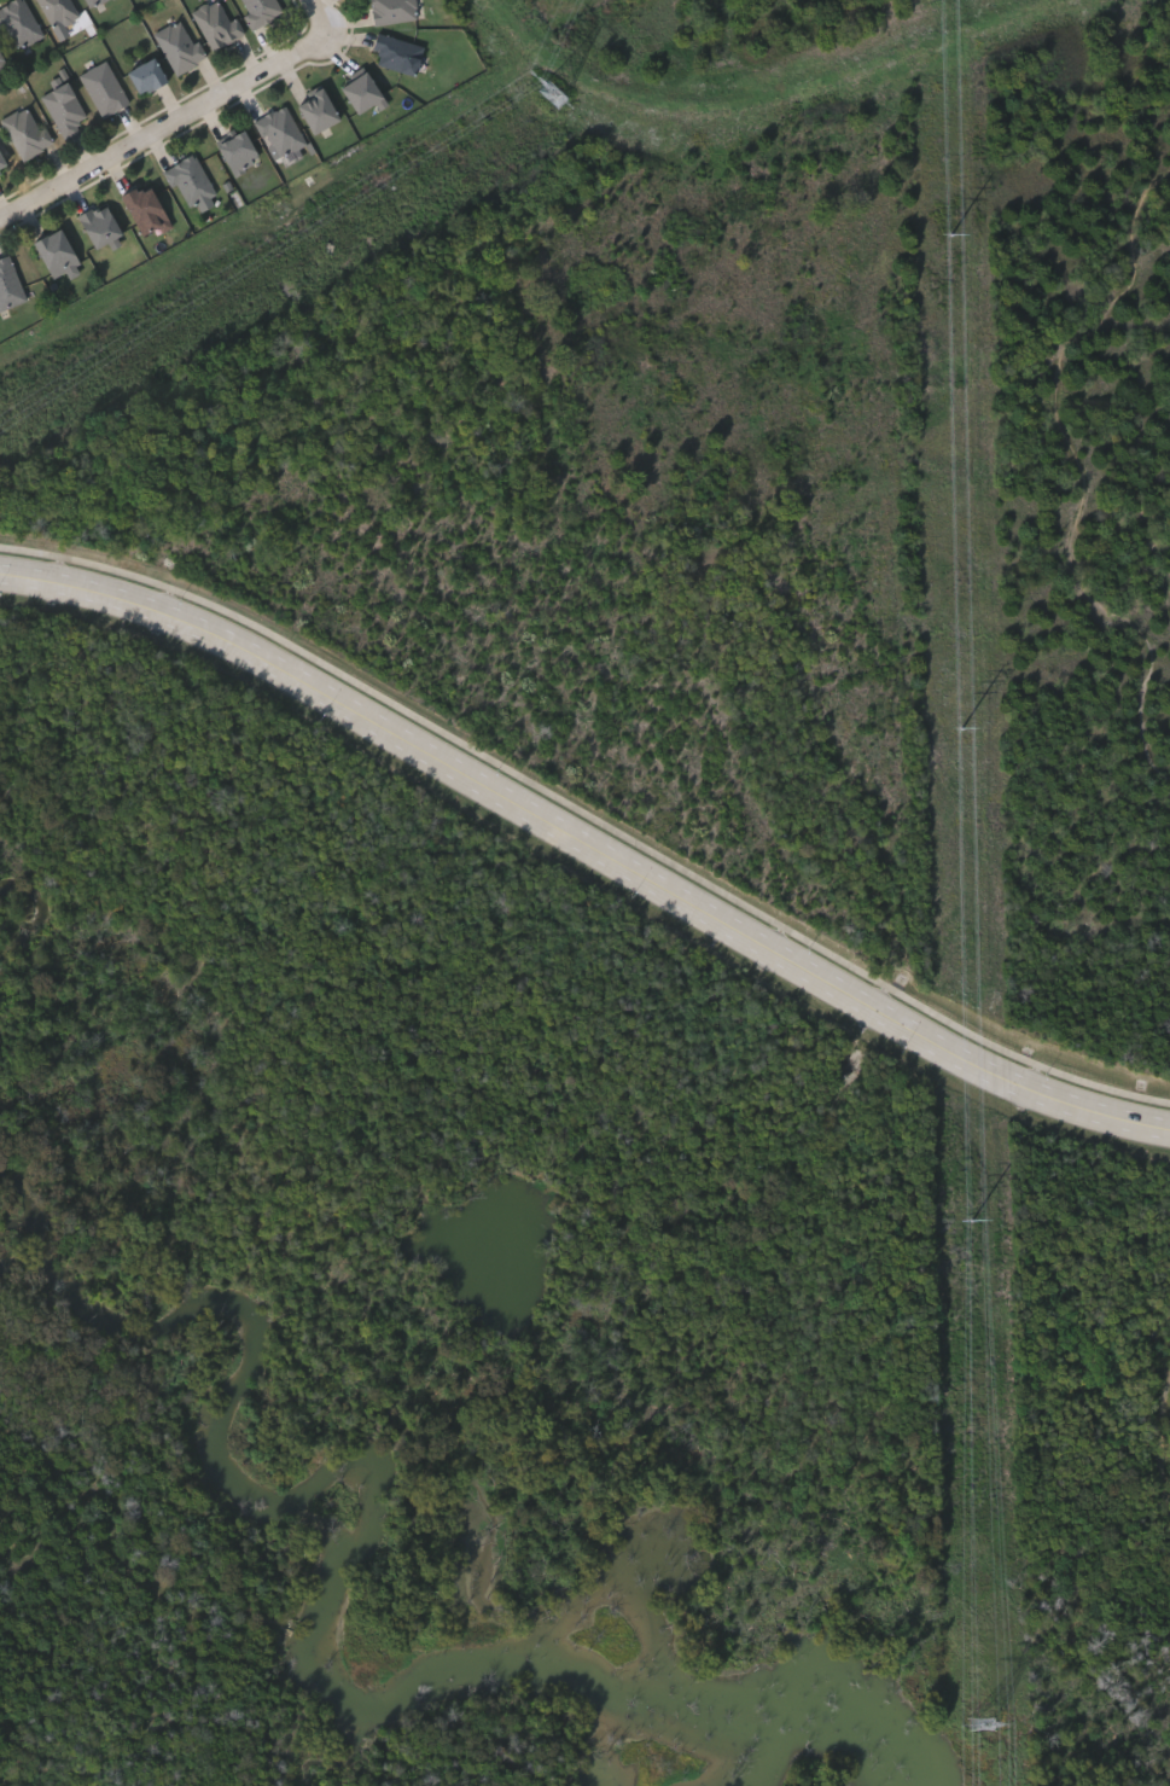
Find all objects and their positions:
building: (92, 2)
building: (260, 10)
building: (392, 10)
building: (58, 11)
road: (319, 13)
building: (216, 22)
building: (18, 23)
building: (179, 45)
building: (396, 52)
building: (2, 63)
building: (145, 74)
building: (103, 88)
building: (361, 92)
power tower: (553, 95)
building: (64, 107)
building: (316, 109)
road: (164, 129)
building: (280, 129)
building: (25, 130)
building: (238, 151)
building: (1, 165)
building: (190, 180)
building: (144, 209)
building: (98, 225)
power tower: (953, 238)
building: (54, 252)
building: (8, 284)
power tower: (962, 729)
road: (583, 854)
park: (640, 878)
power tower: (971, 1217)
power tower: (980, 1722)

